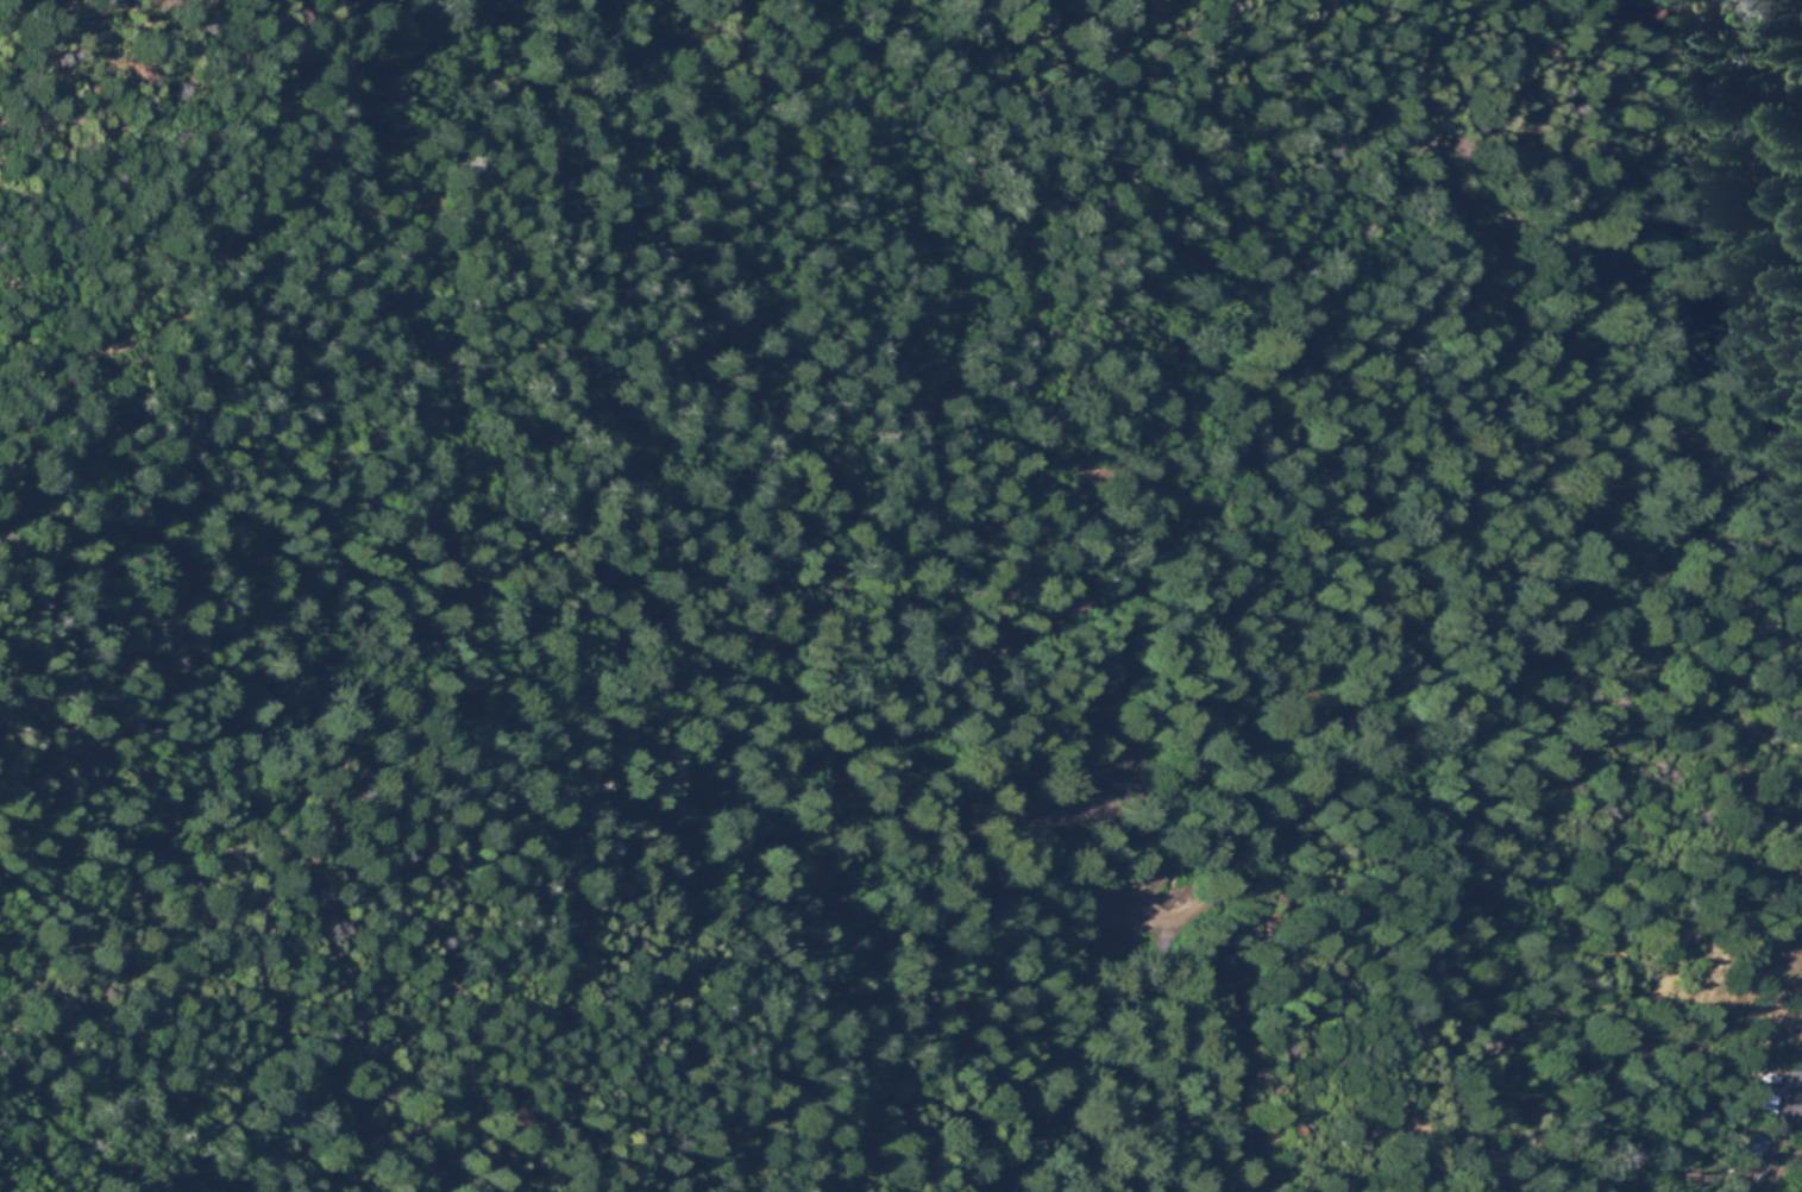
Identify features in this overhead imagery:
building: (1801, 1006)
building: (1751, 1146)

